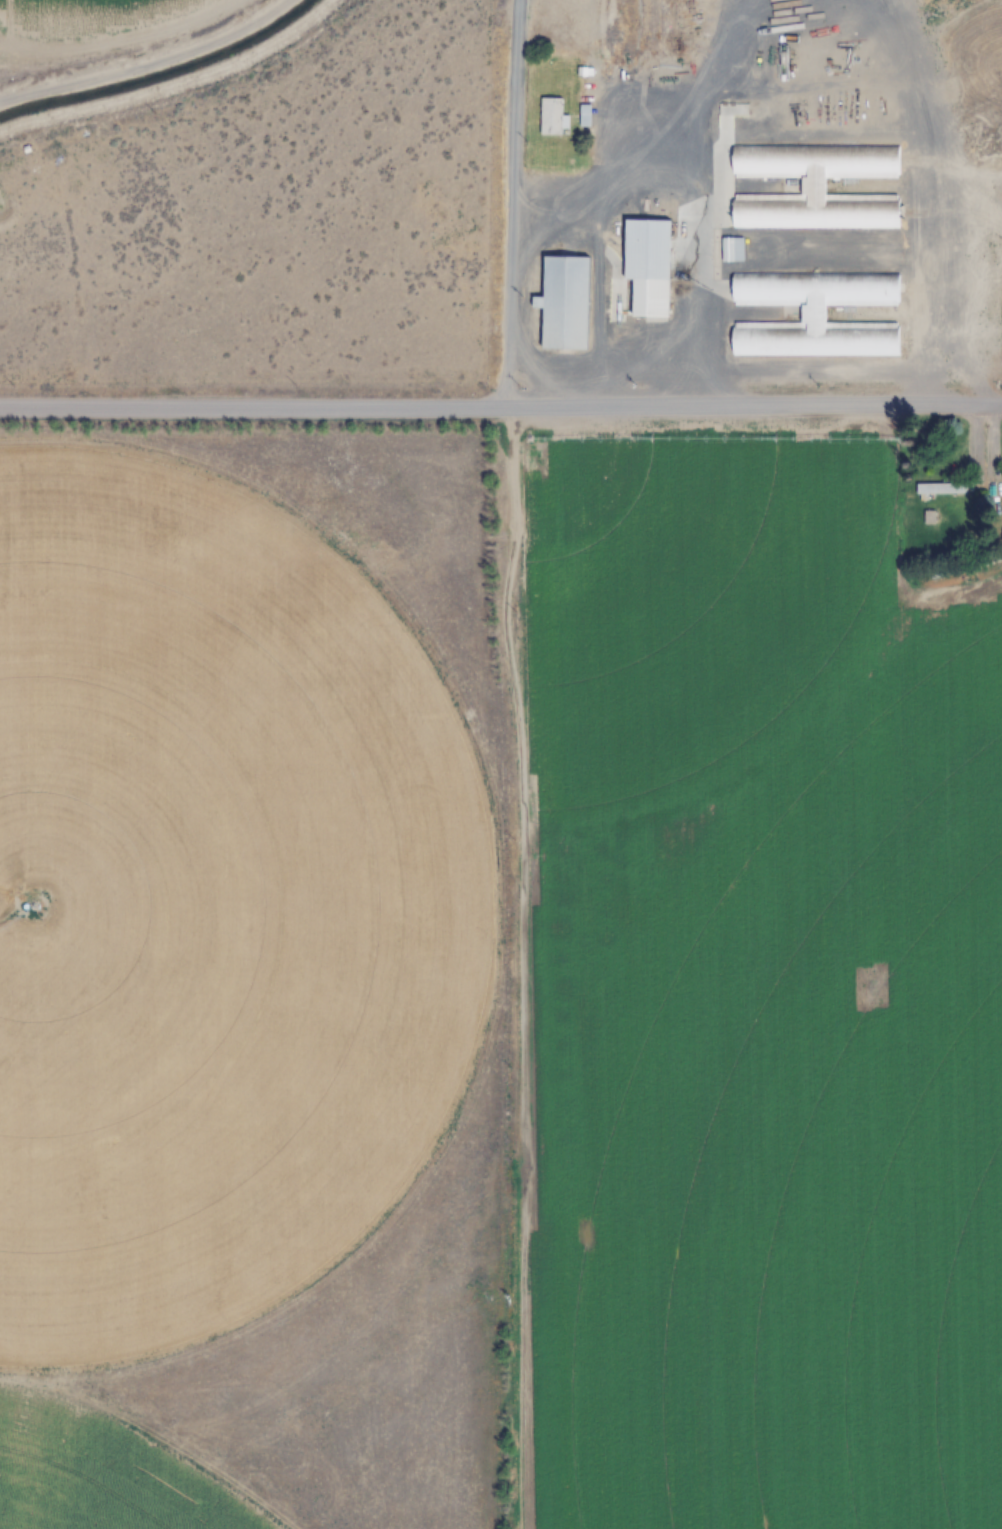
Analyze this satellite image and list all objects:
road: (114, 38)
building: (553, 117)
building: (815, 186)
road: (512, 204)
building: (732, 249)
building: (648, 266)
building: (564, 303)
building: (815, 315)
road: (500, 407)
building: (941, 489)
building: (930, 518)

